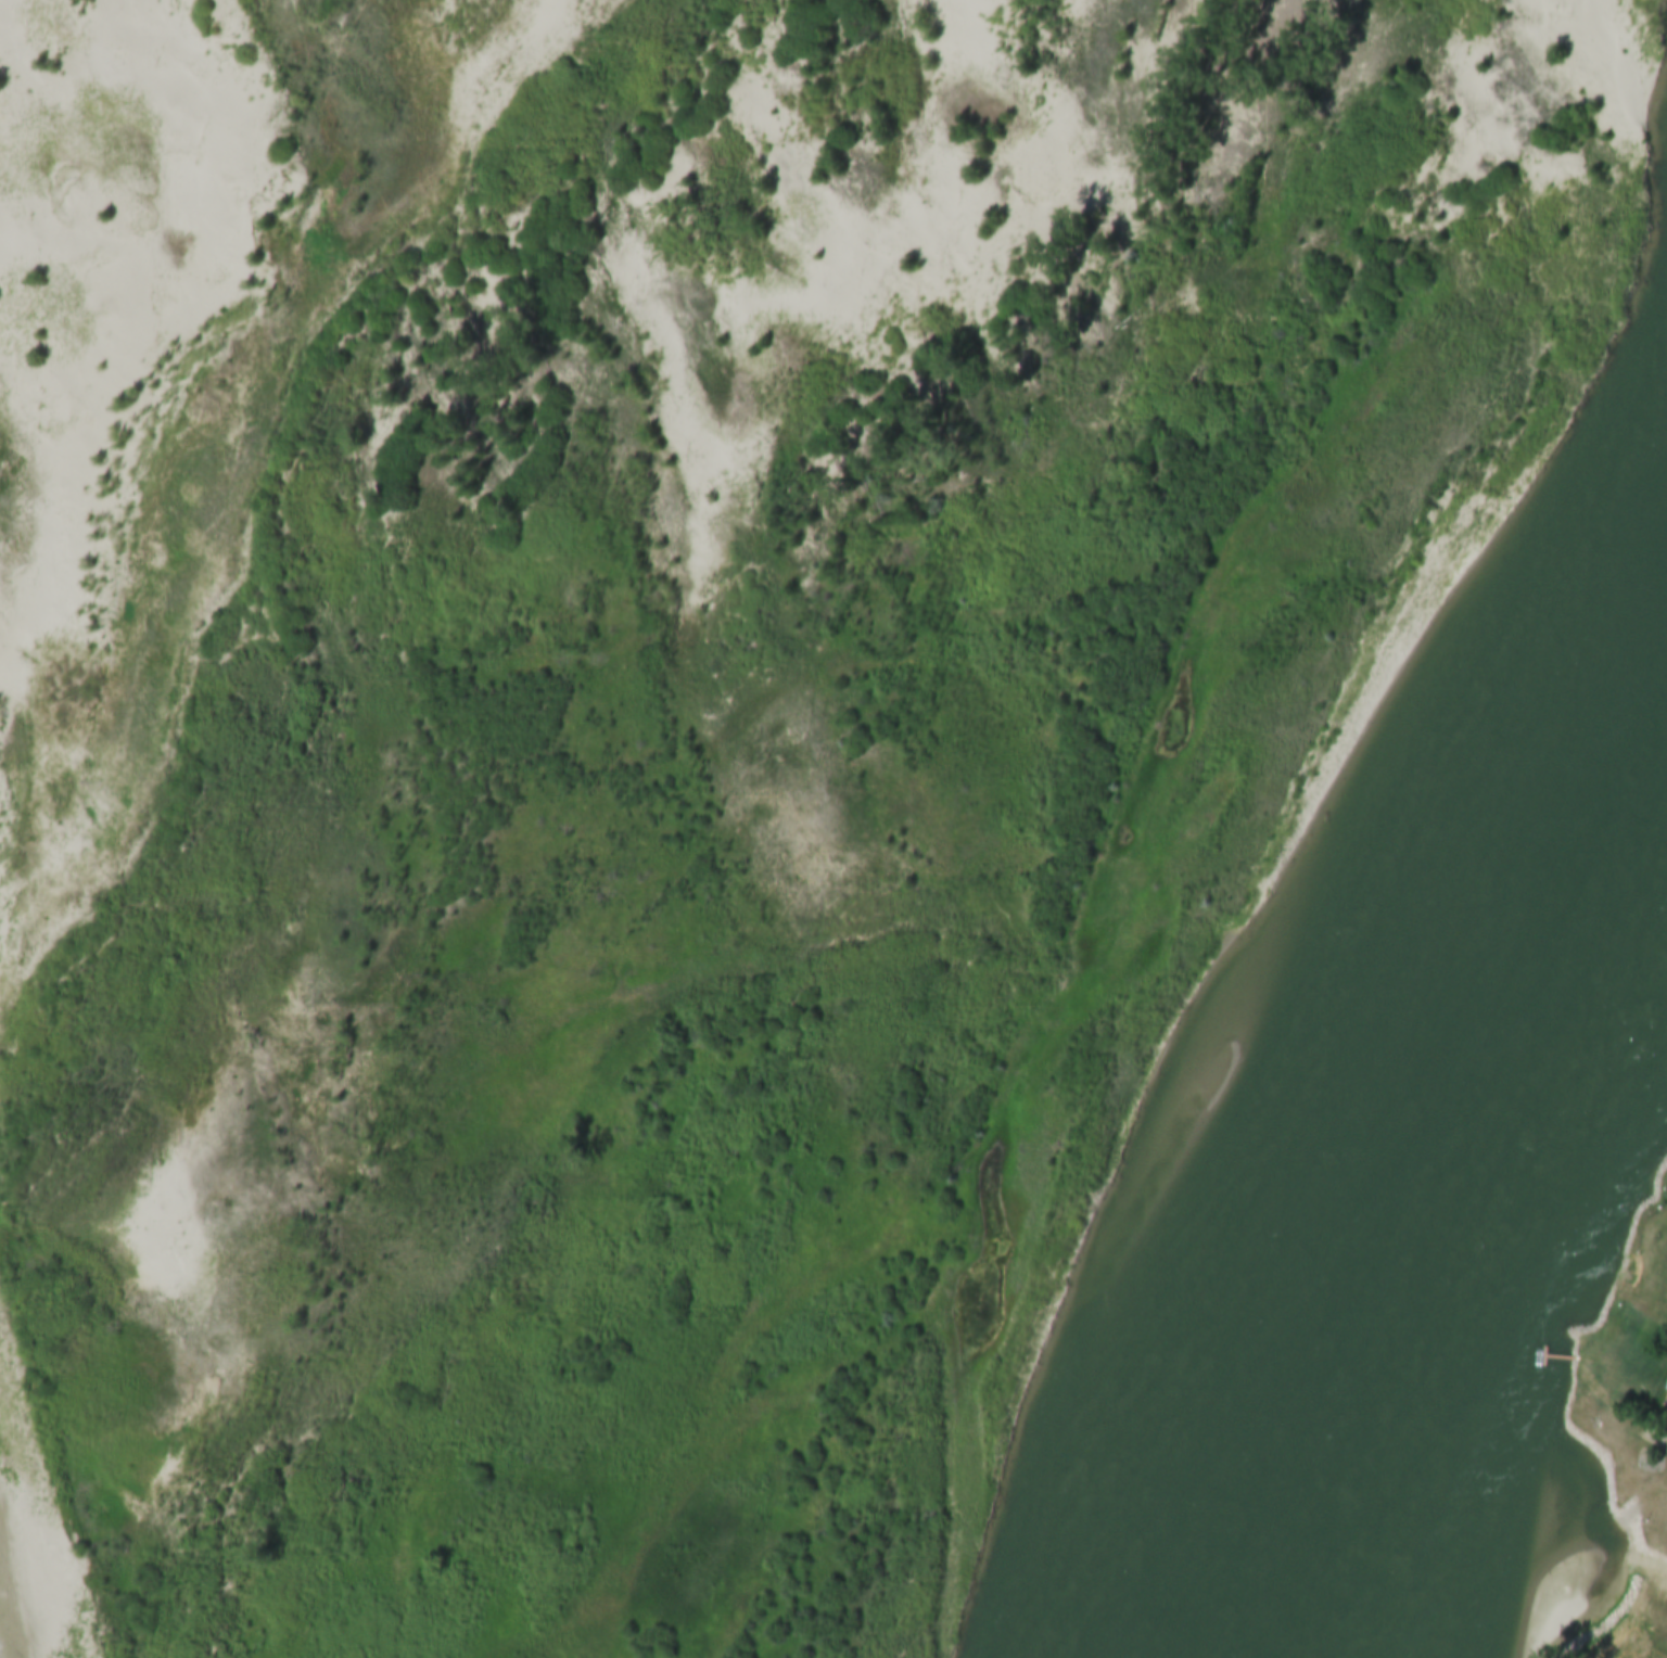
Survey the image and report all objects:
river: (1449, 1201)
building: (1666, 1390)
building: (1652, 1496)
road: (1643, 1551)

